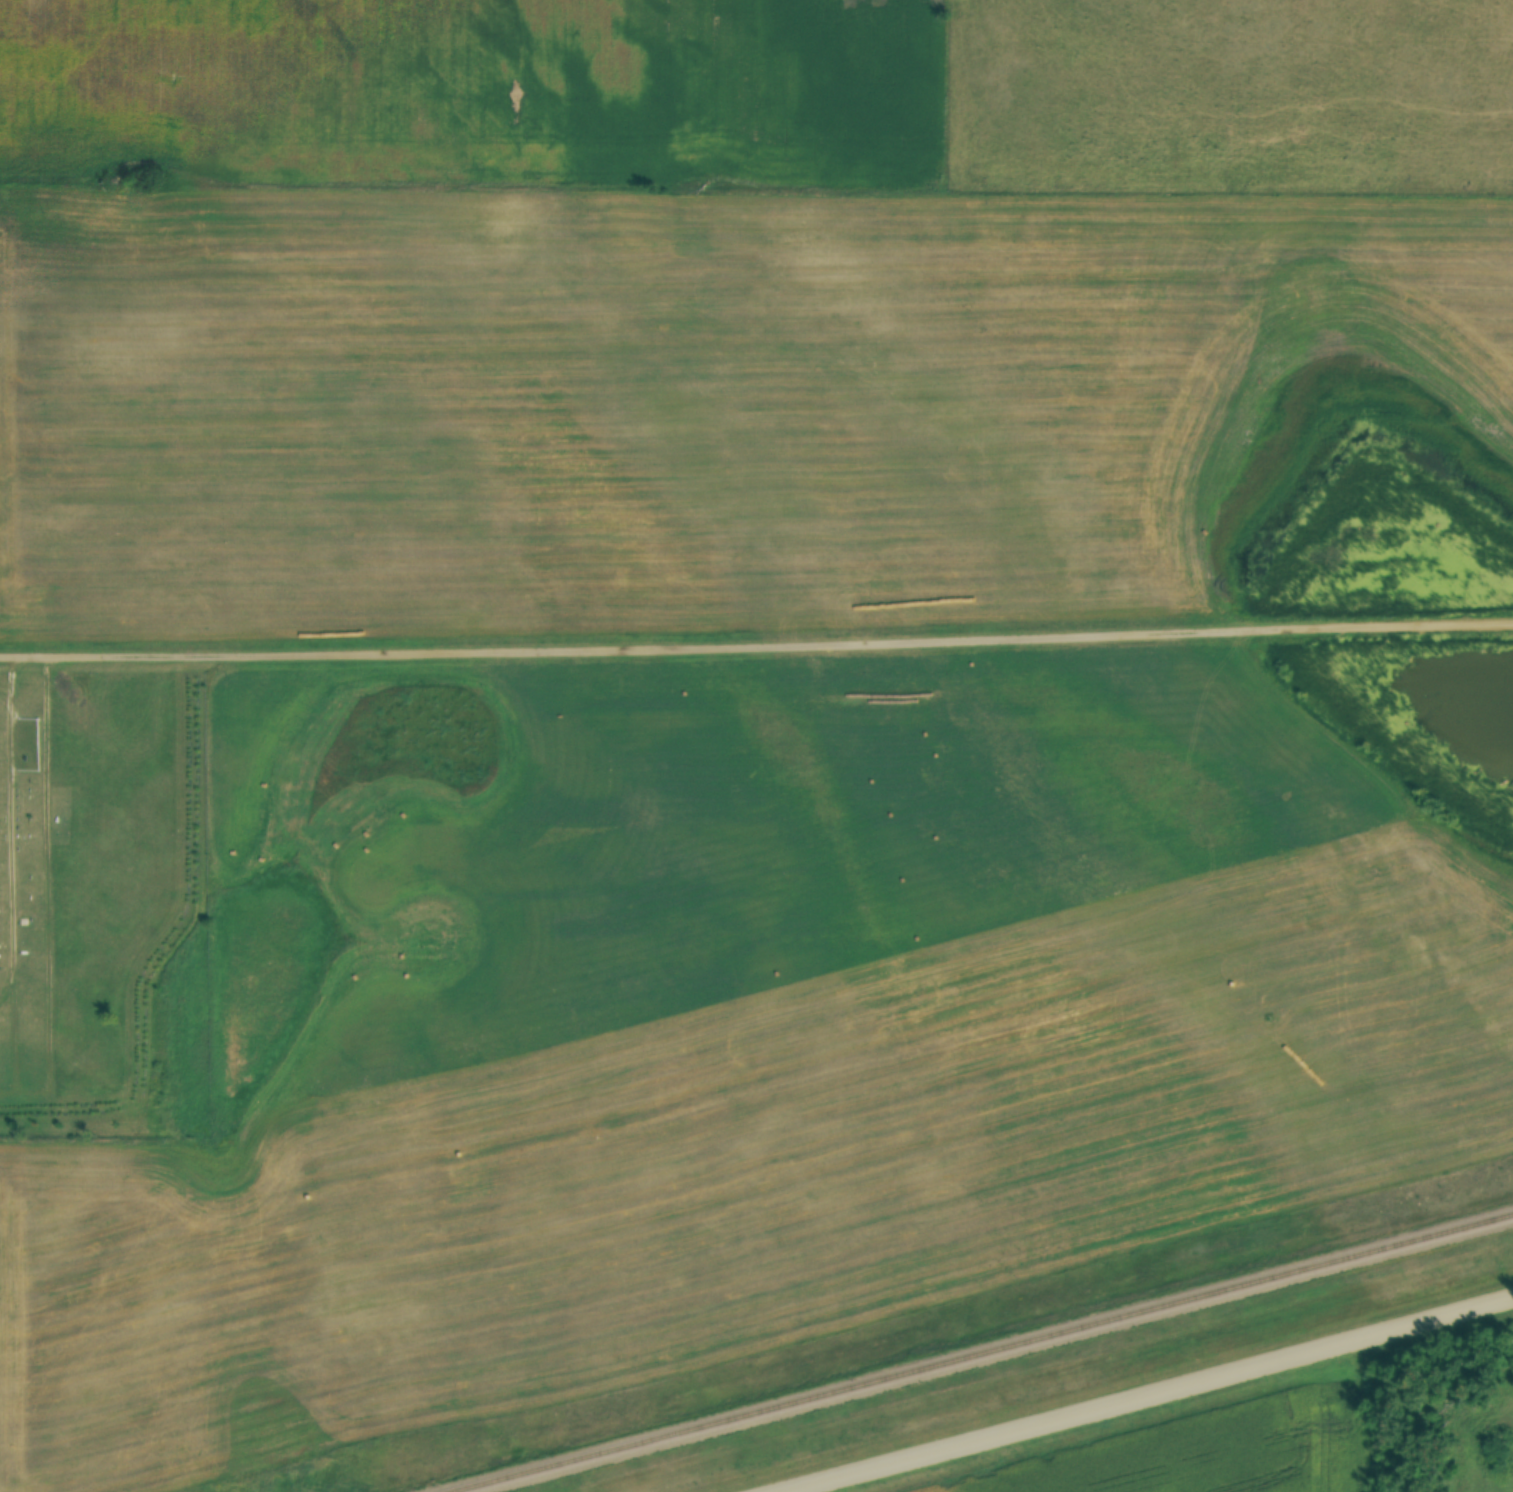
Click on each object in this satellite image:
road: (756, 646)
railway: (980, 1352)
road: (1135, 1391)

